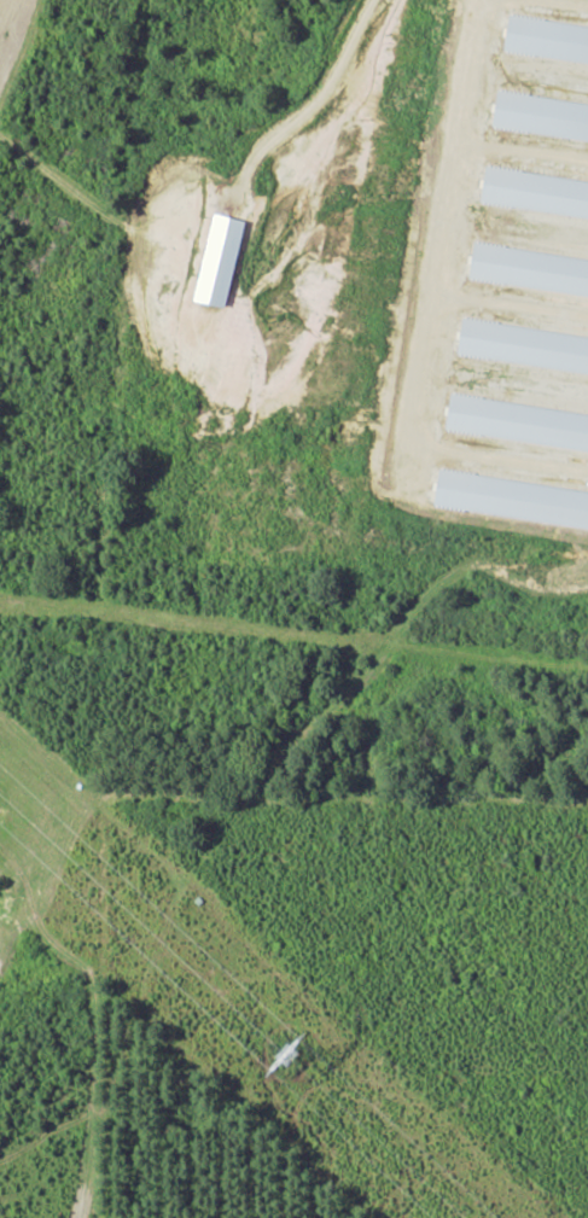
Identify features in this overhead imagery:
building: (547, 42)
building: (541, 117)
building: (536, 194)
building: (221, 261)
building: (530, 270)
building: (524, 348)
building: (518, 424)
building: (512, 500)
power tower: (292, 1068)

